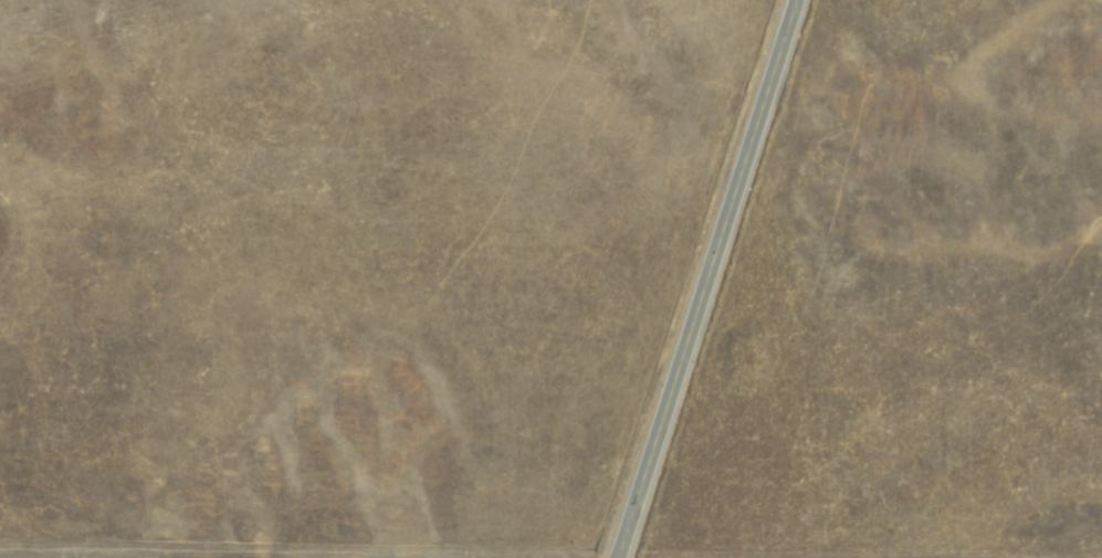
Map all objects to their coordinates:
road: (703, 278)

